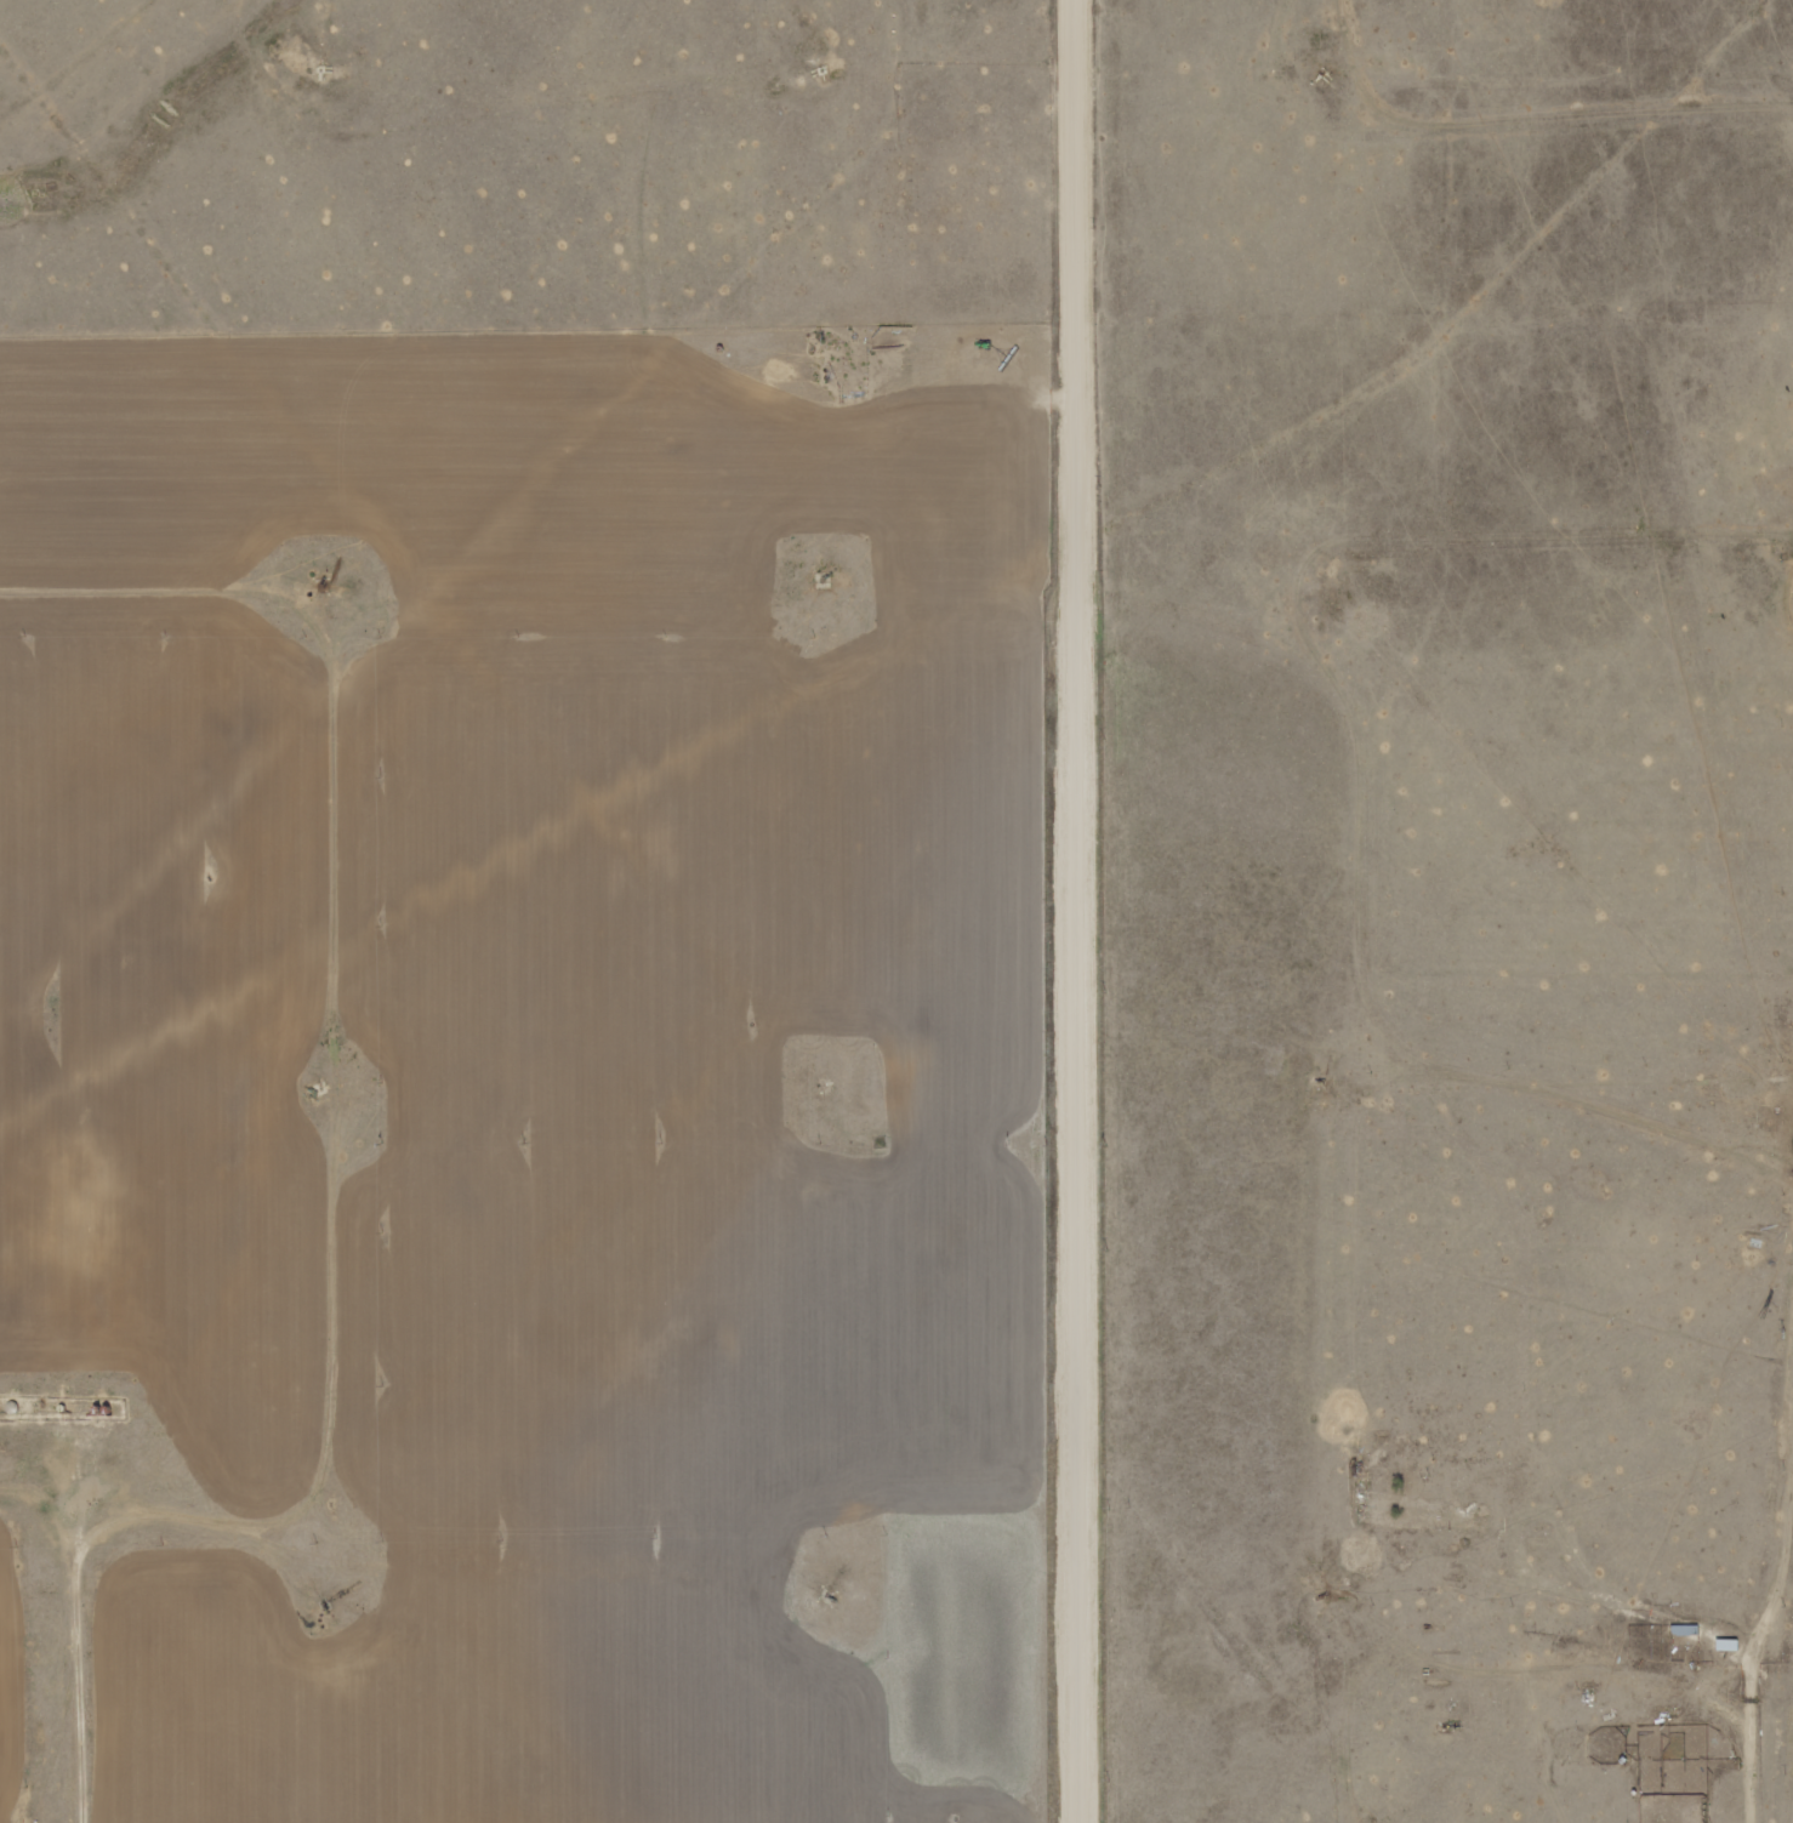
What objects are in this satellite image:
road: (1085, 911)

